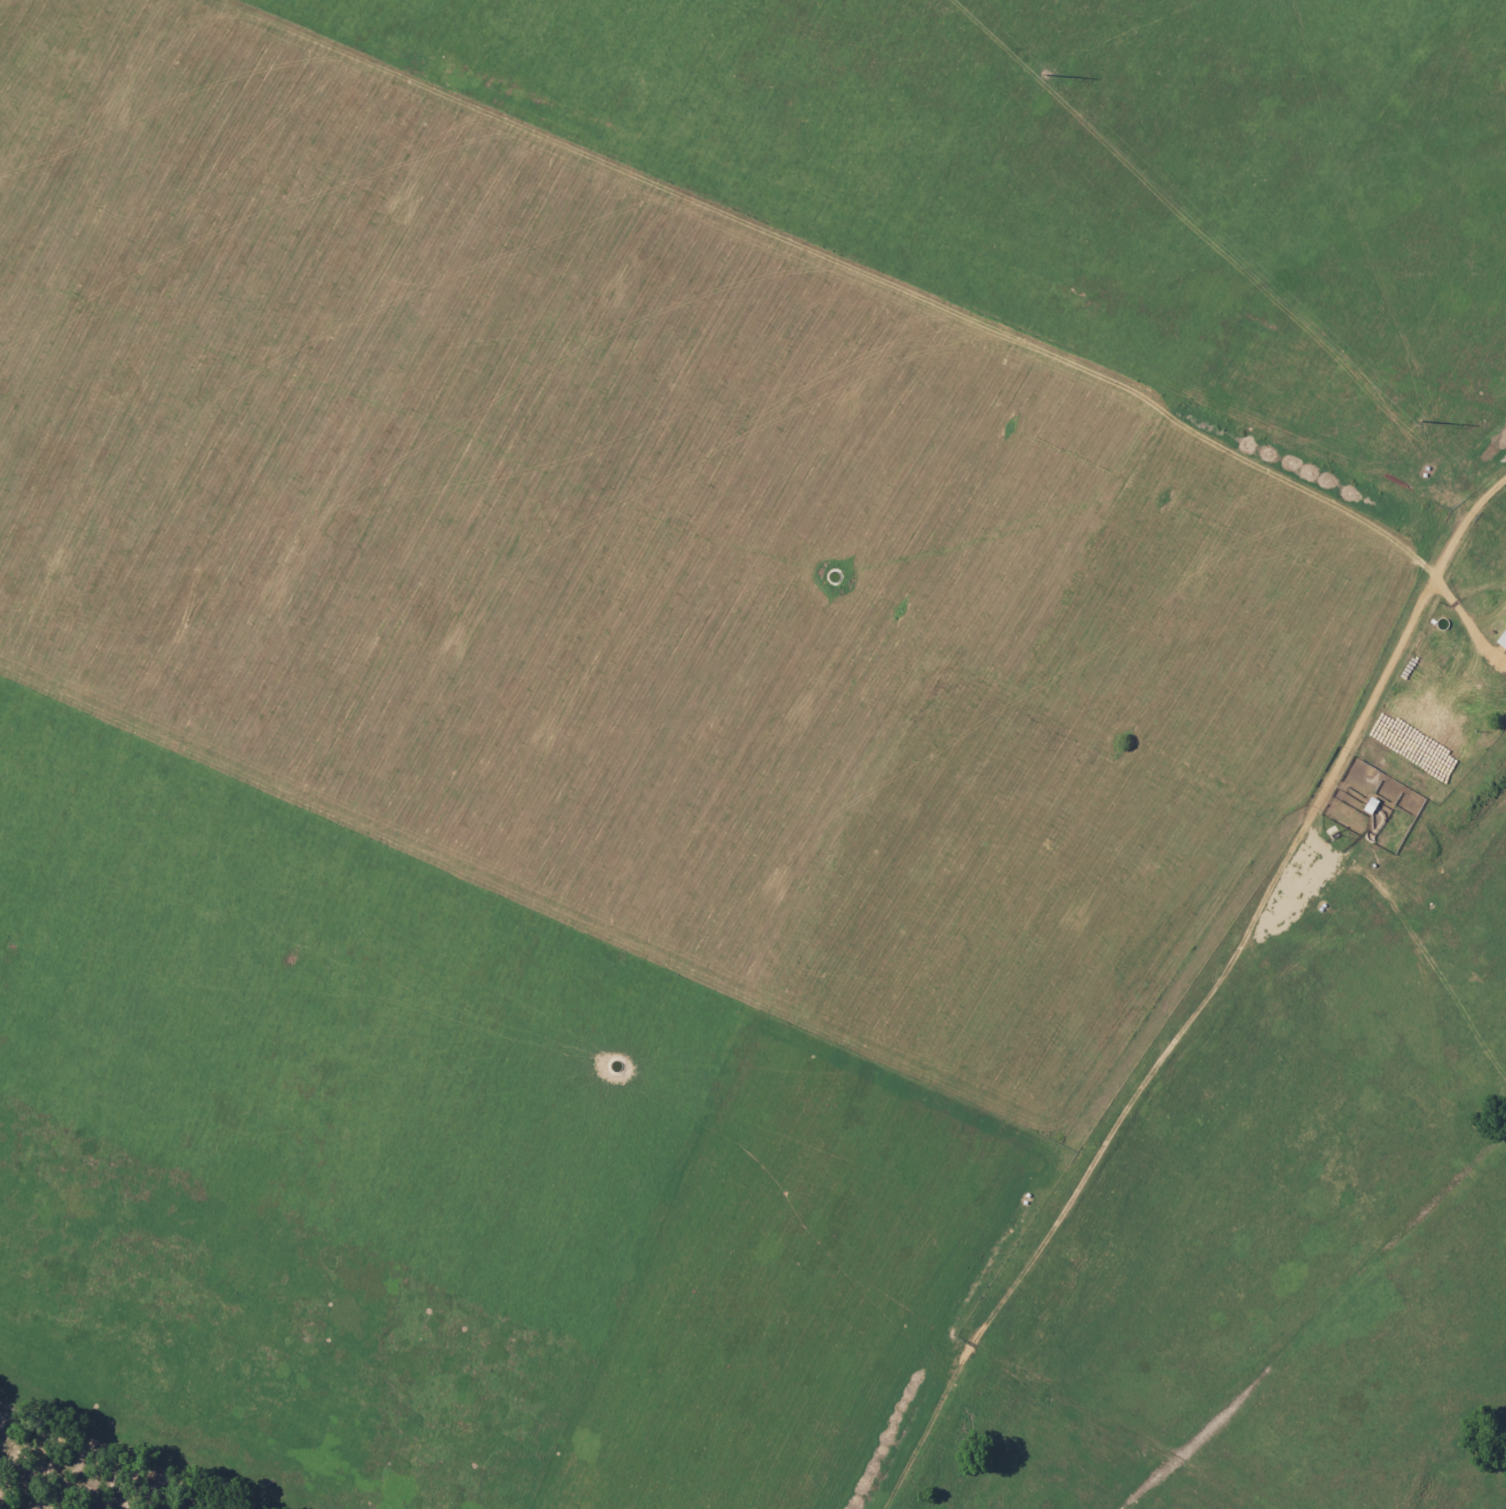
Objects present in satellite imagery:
power tower: (1043, 71)
power tower: (1419, 418)
road: (1458, 530)

